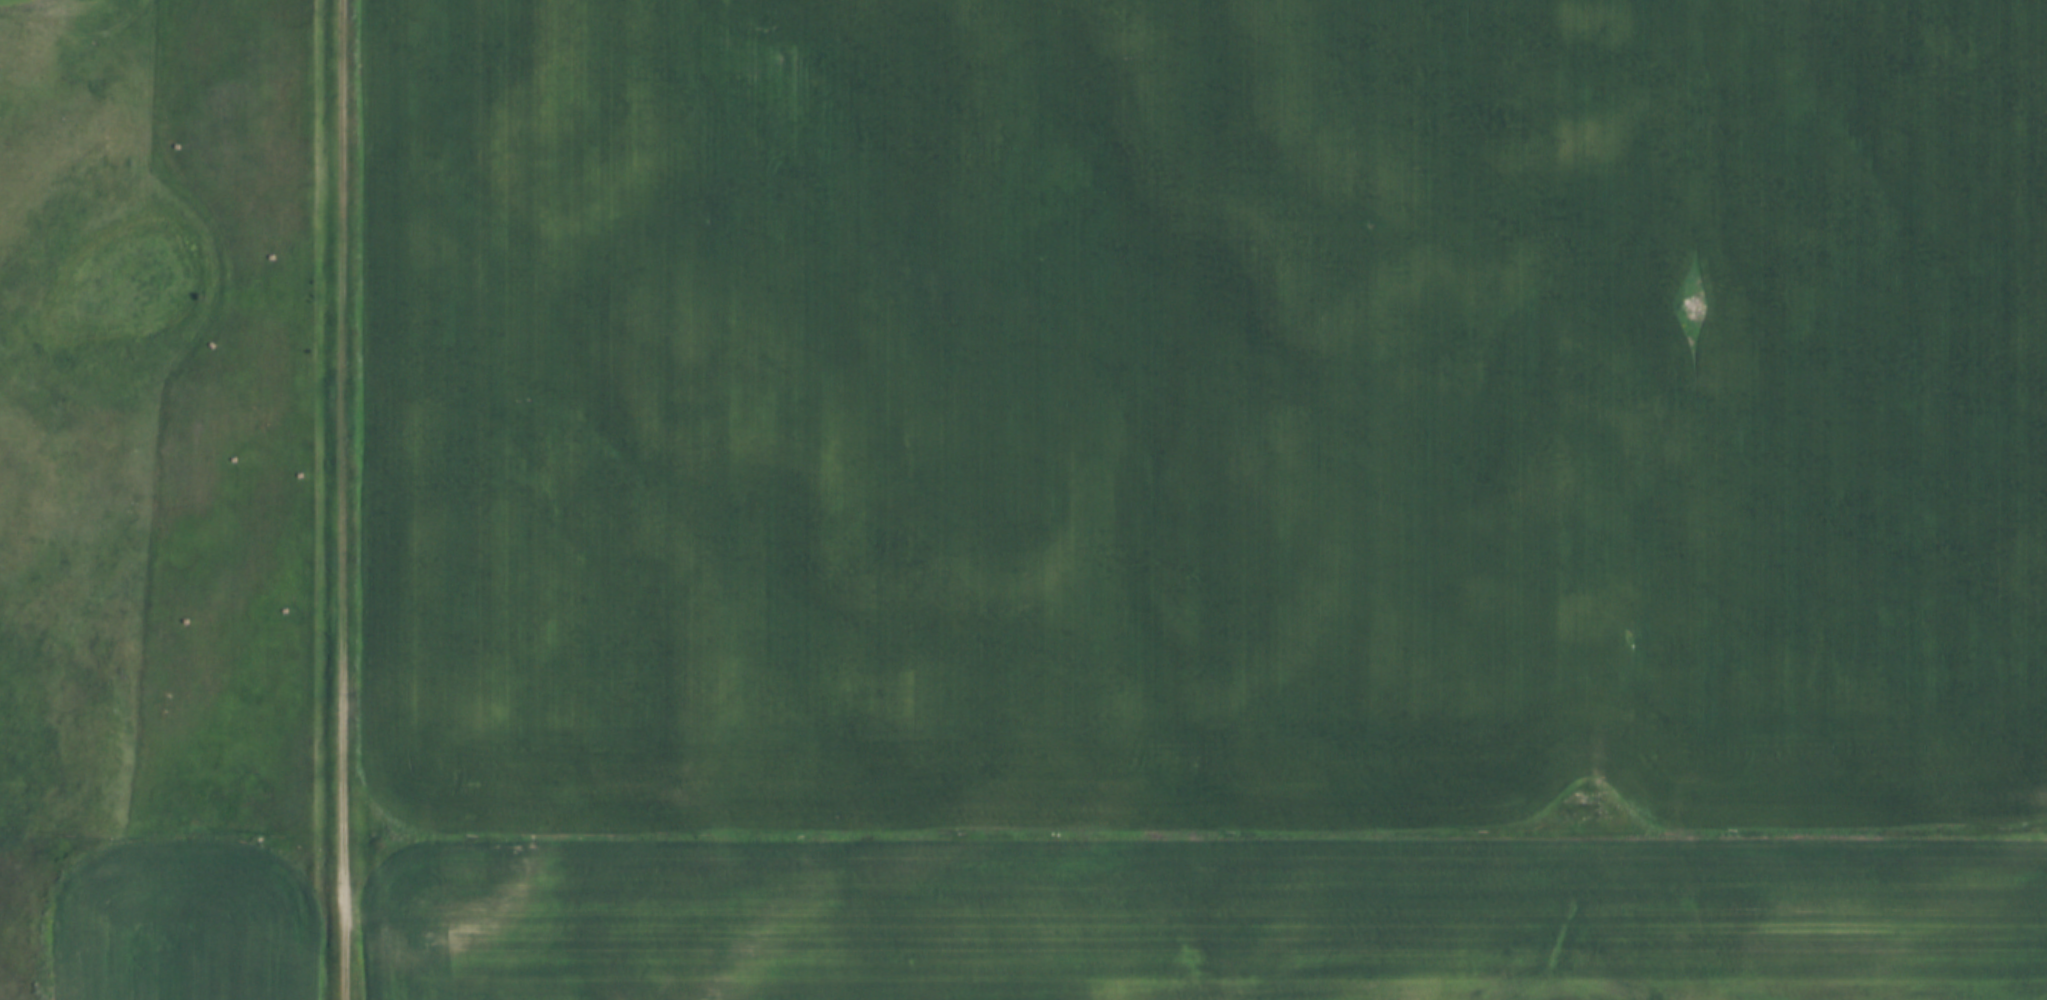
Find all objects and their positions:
road: (341, 500)

